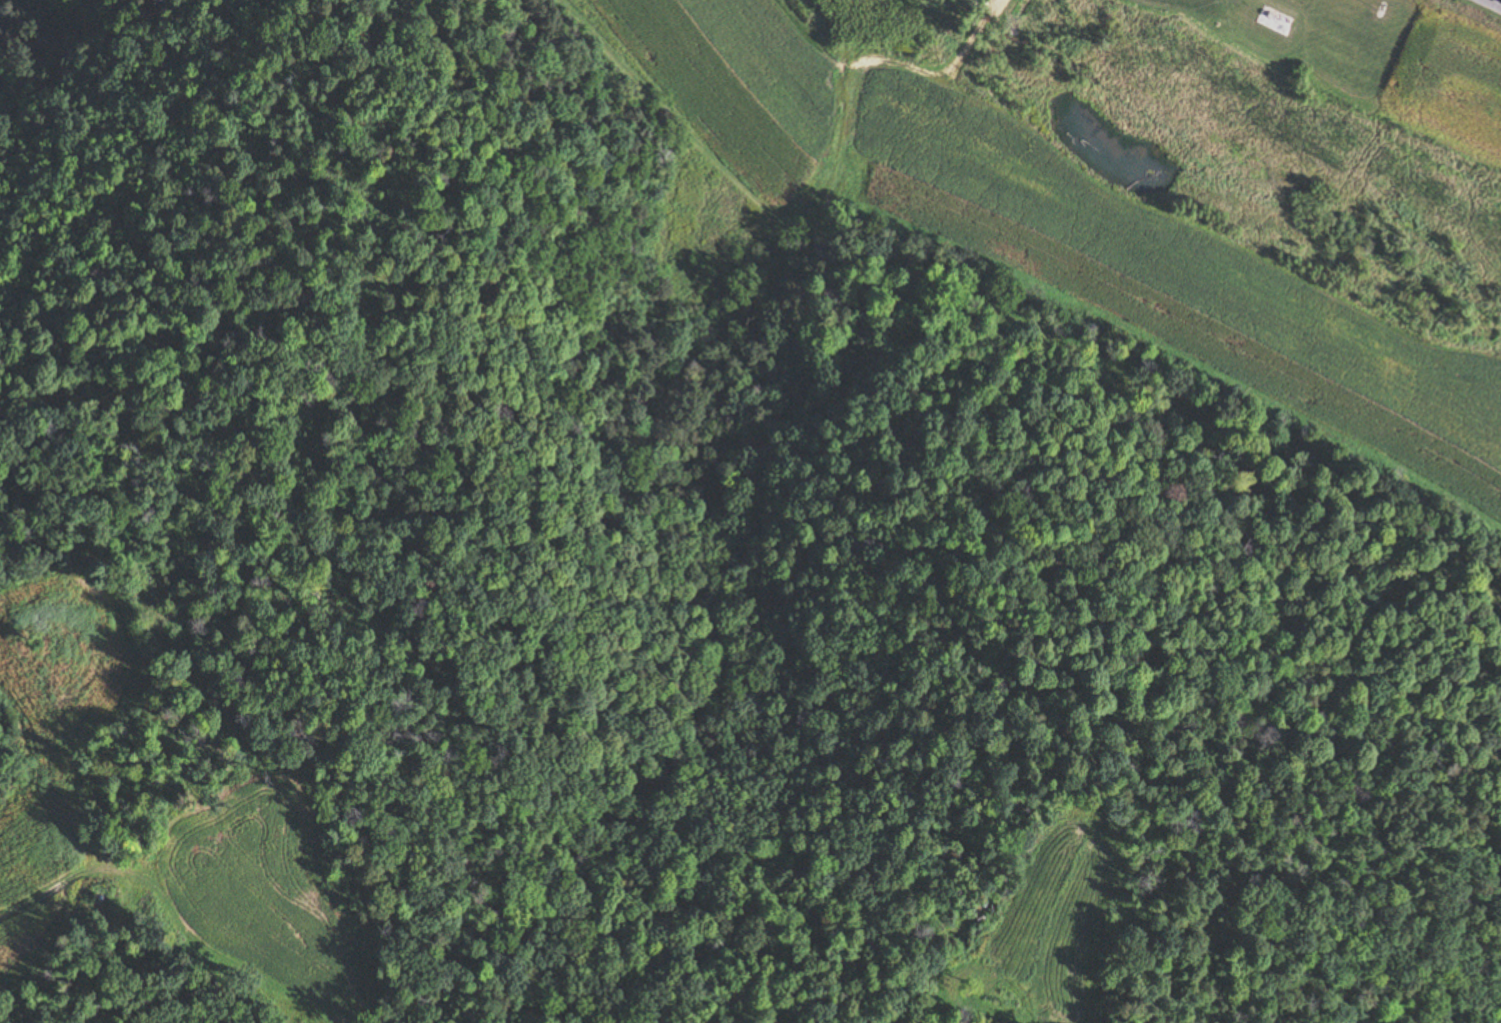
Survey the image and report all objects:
road: (1495, 4)

